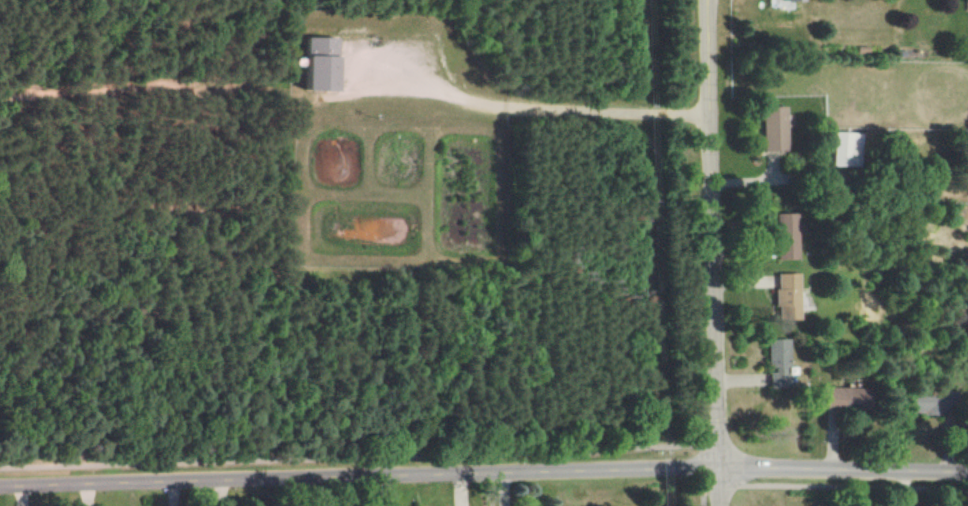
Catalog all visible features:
building: (799, 0)
building: (967, 1)
building: (320, 64)
road: (537, 107)
building: (776, 129)
building: (848, 149)
building: (787, 236)
road: (713, 253)
building: (788, 296)
building: (778, 363)
road: (695, 377)
building: (849, 398)
road: (348, 460)
road: (483, 473)
road: (701, 497)

